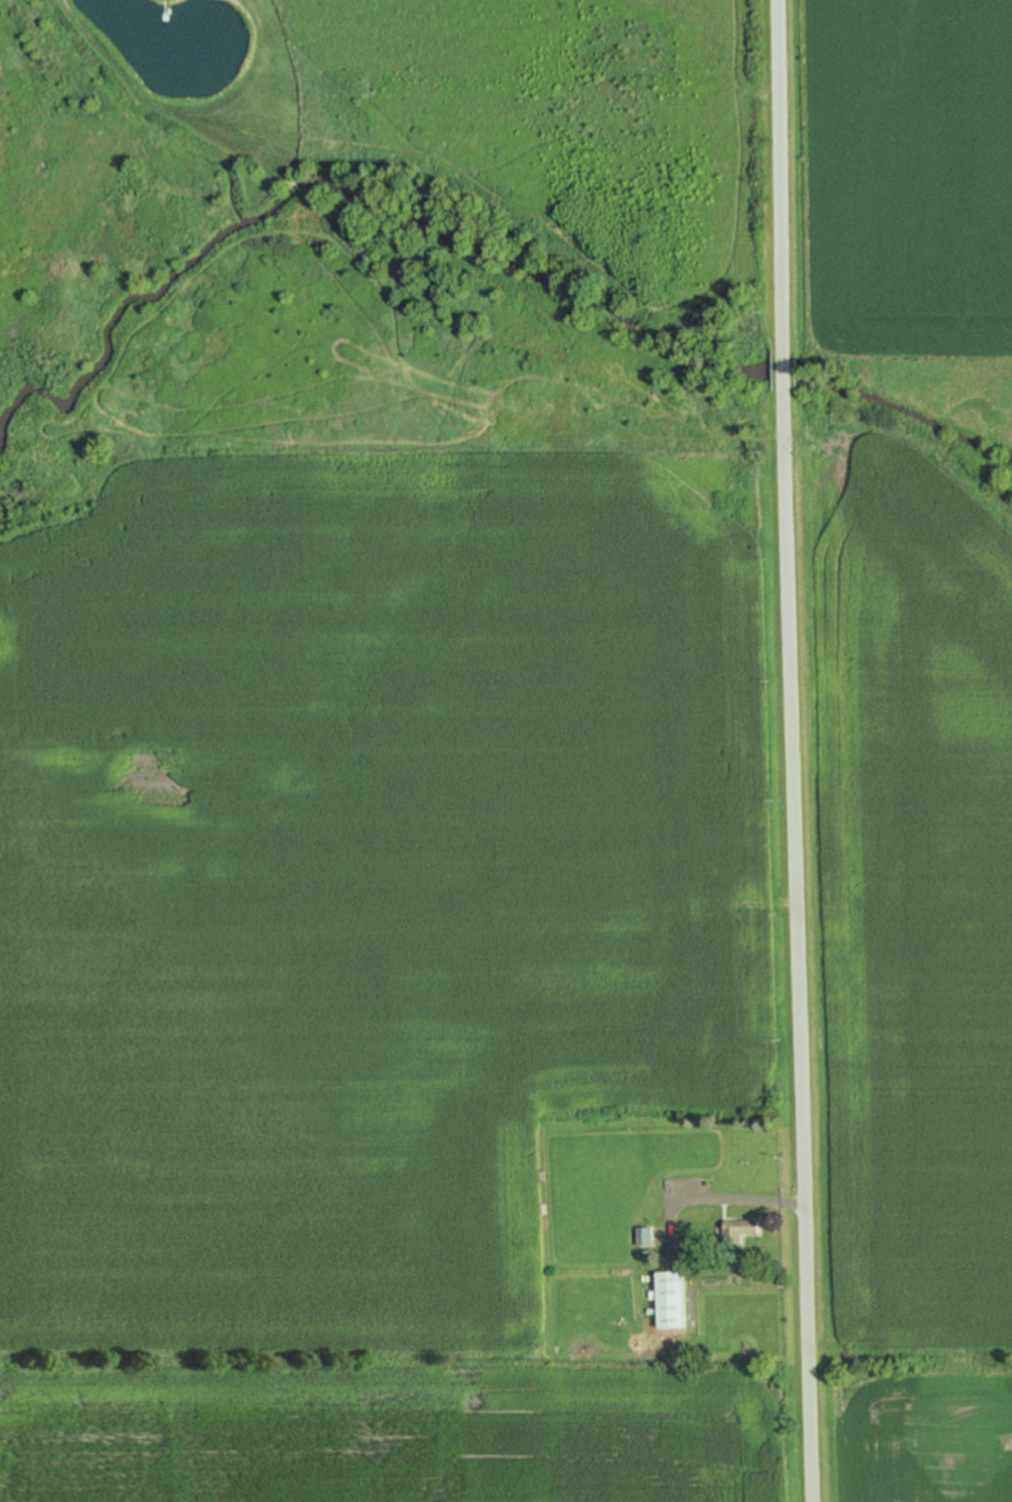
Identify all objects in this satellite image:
road: (779, 175)
road: (783, 373)
road: (798, 949)
building: (735, 1228)
building: (663, 1297)

